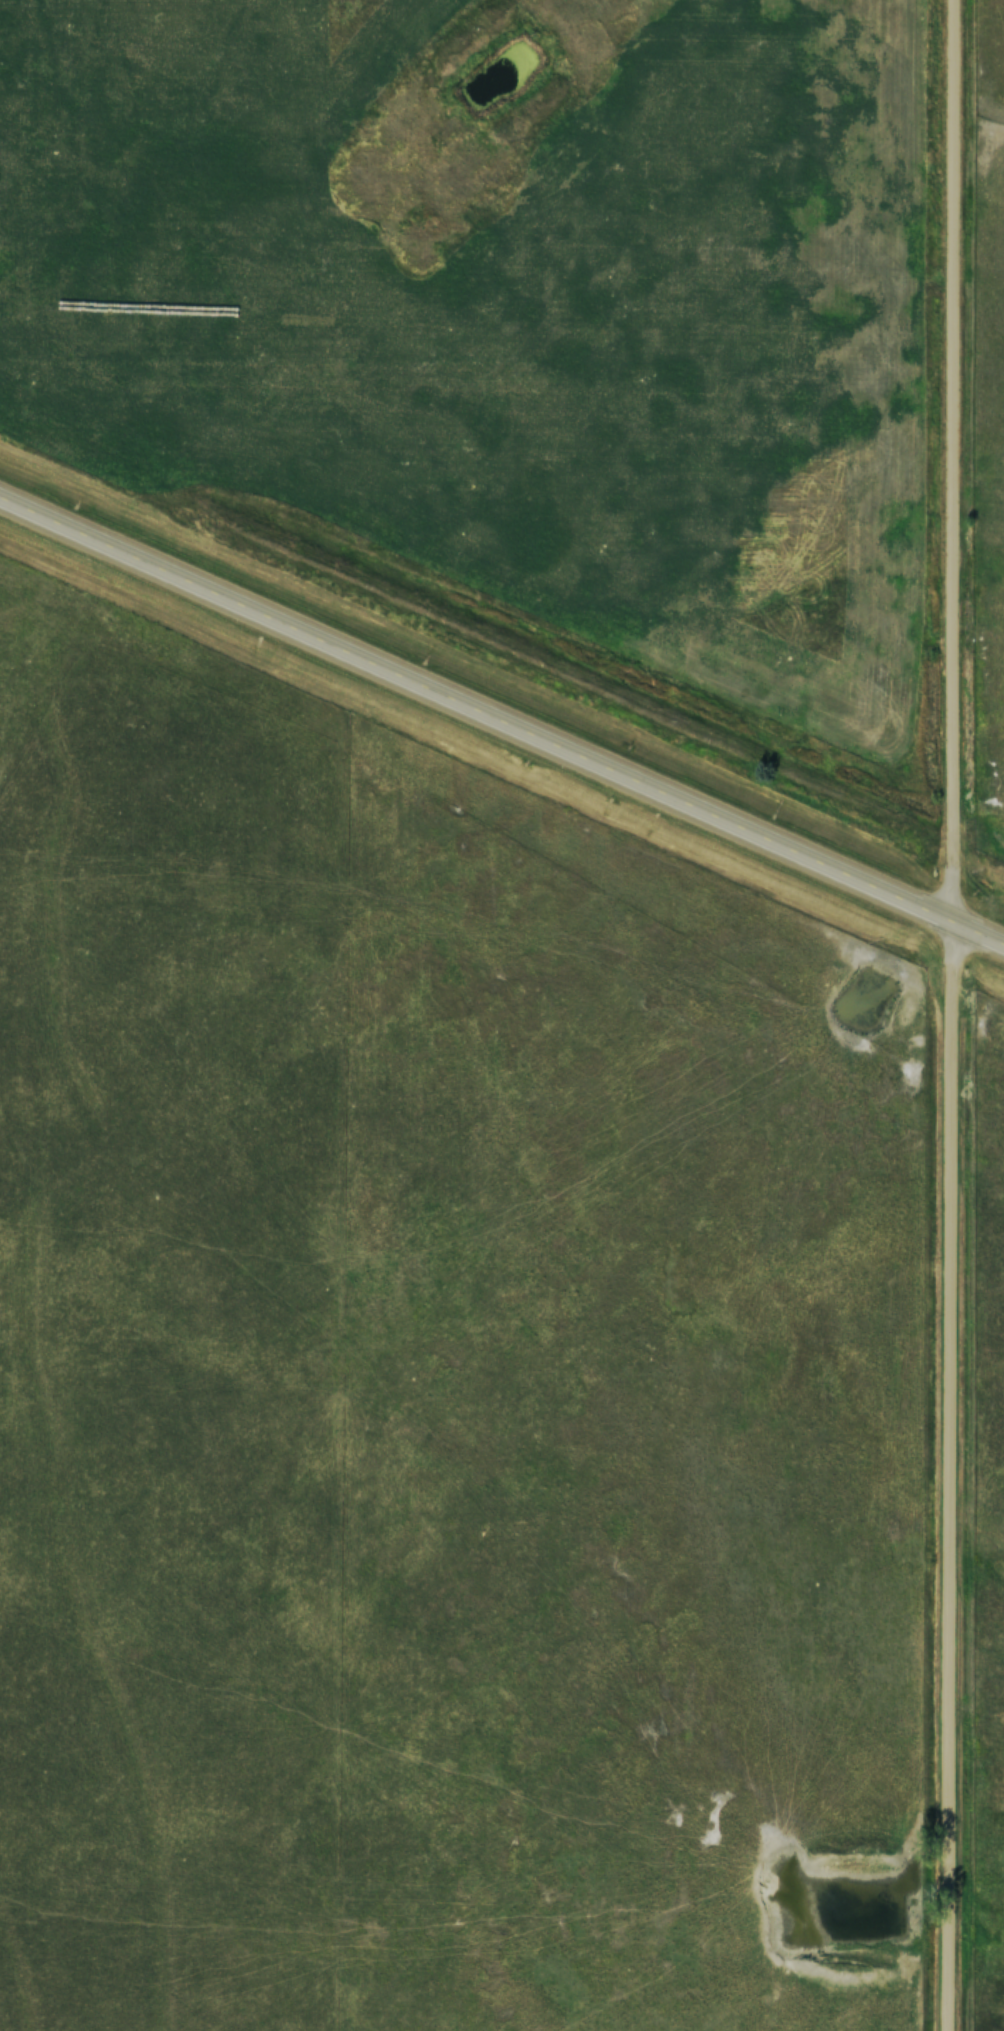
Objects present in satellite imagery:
road: (502, 720)
road: (945, 1015)

